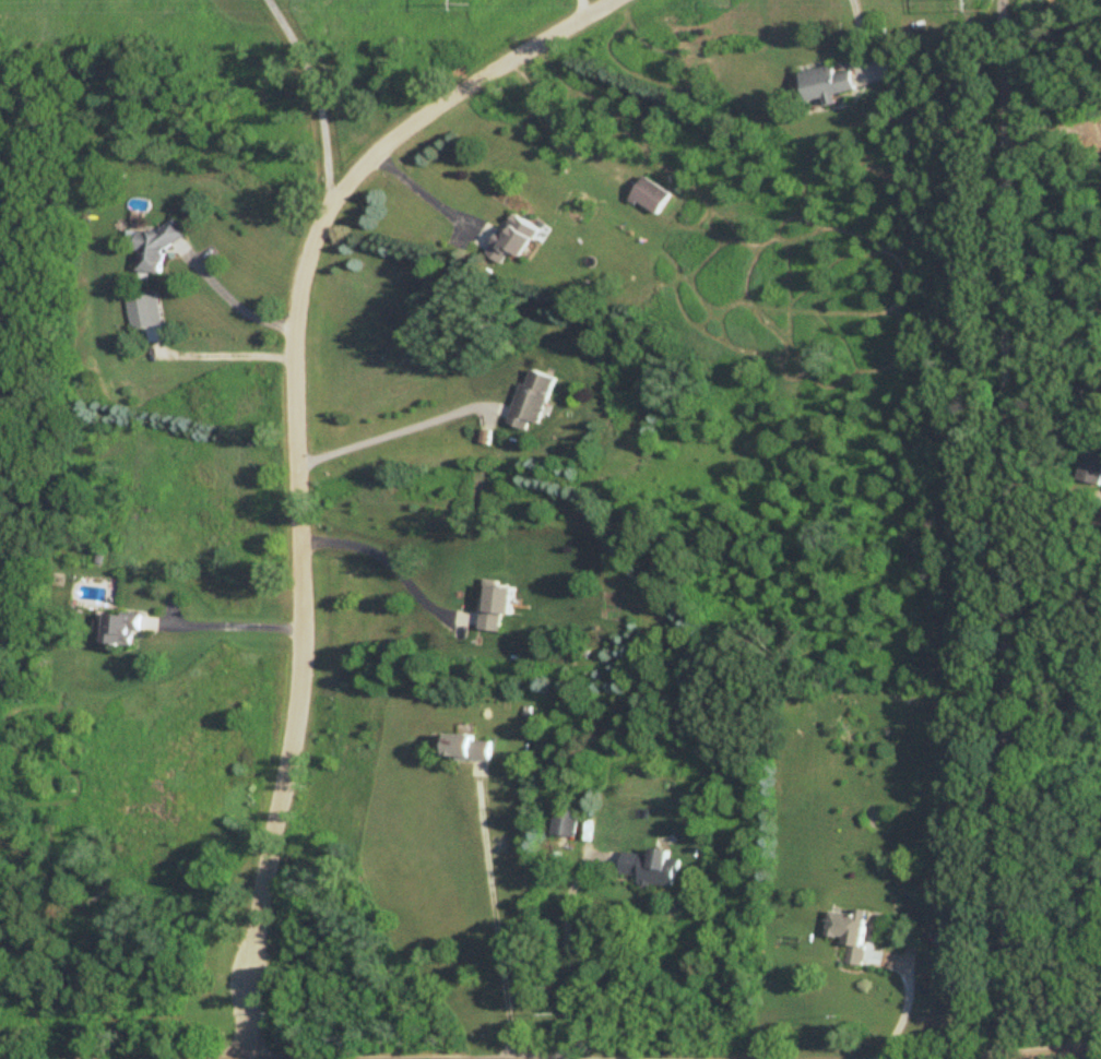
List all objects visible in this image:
road: (576, 9)
road: (859, 31)
building: (824, 83)
road: (315, 97)
road: (1051, 130)
road: (421, 192)
building: (644, 195)
building: (509, 239)
building: (154, 247)
road: (237, 304)
building: (530, 400)
road: (388, 432)
road: (298, 456)
building: (1089, 468)
road: (1003, 528)
road: (388, 563)
building: (494, 607)
road: (232, 626)
building: (118, 630)
building: (466, 748)
building: (563, 823)
building: (647, 868)
road: (493, 914)
building: (849, 933)
road: (565, 949)
road: (905, 1003)
road: (1049, 1054)
road: (1034, 1057)

